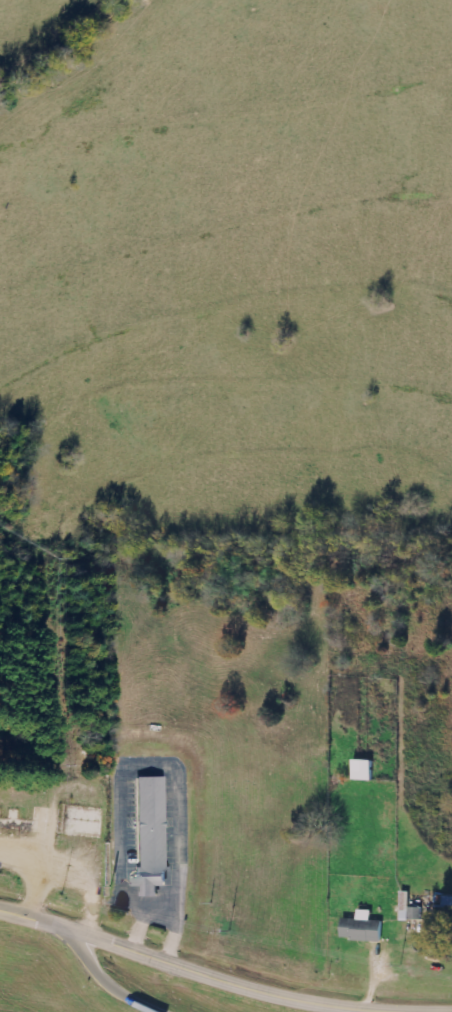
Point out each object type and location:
building: (364, 770)
building: (146, 833)
building: (411, 909)
building: (363, 928)
road: (98, 975)
road: (223, 975)

